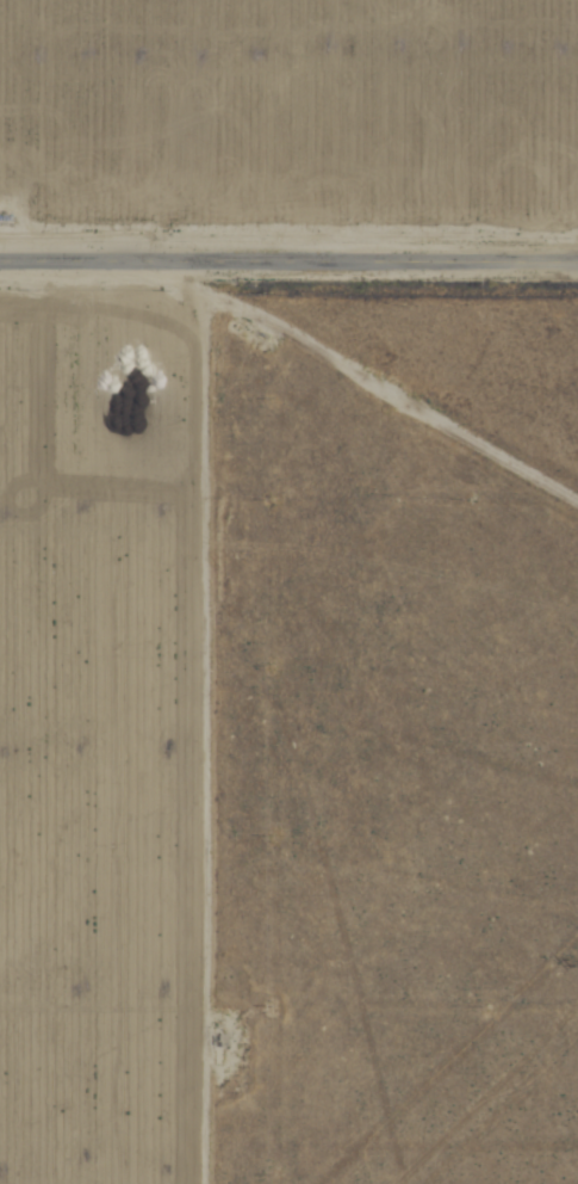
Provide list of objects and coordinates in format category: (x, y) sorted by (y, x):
road: (288, 261)
road: (374, 405)
crop: (182, 454)
road: (160, 717)

